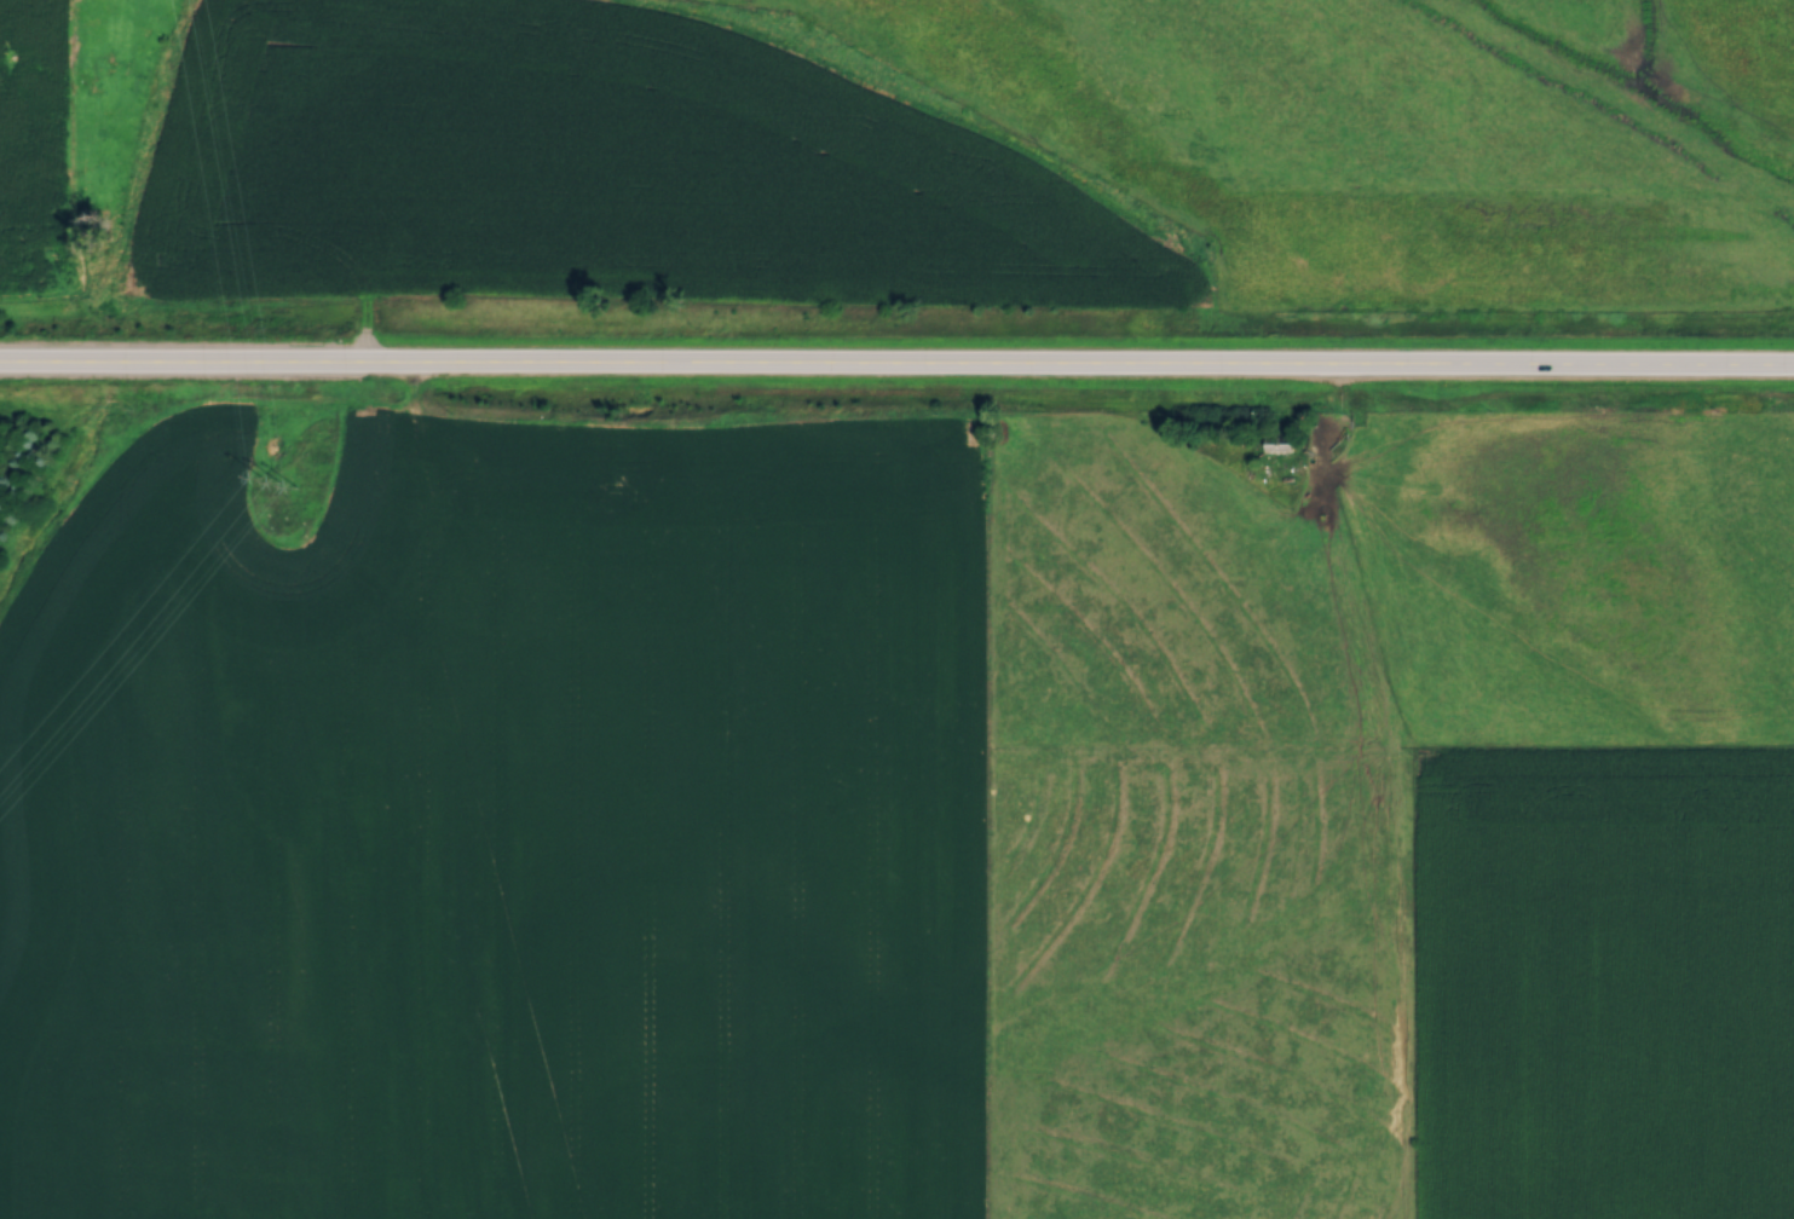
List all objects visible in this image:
road: (896, 365)
building: (1276, 438)
power tower: (275, 472)

